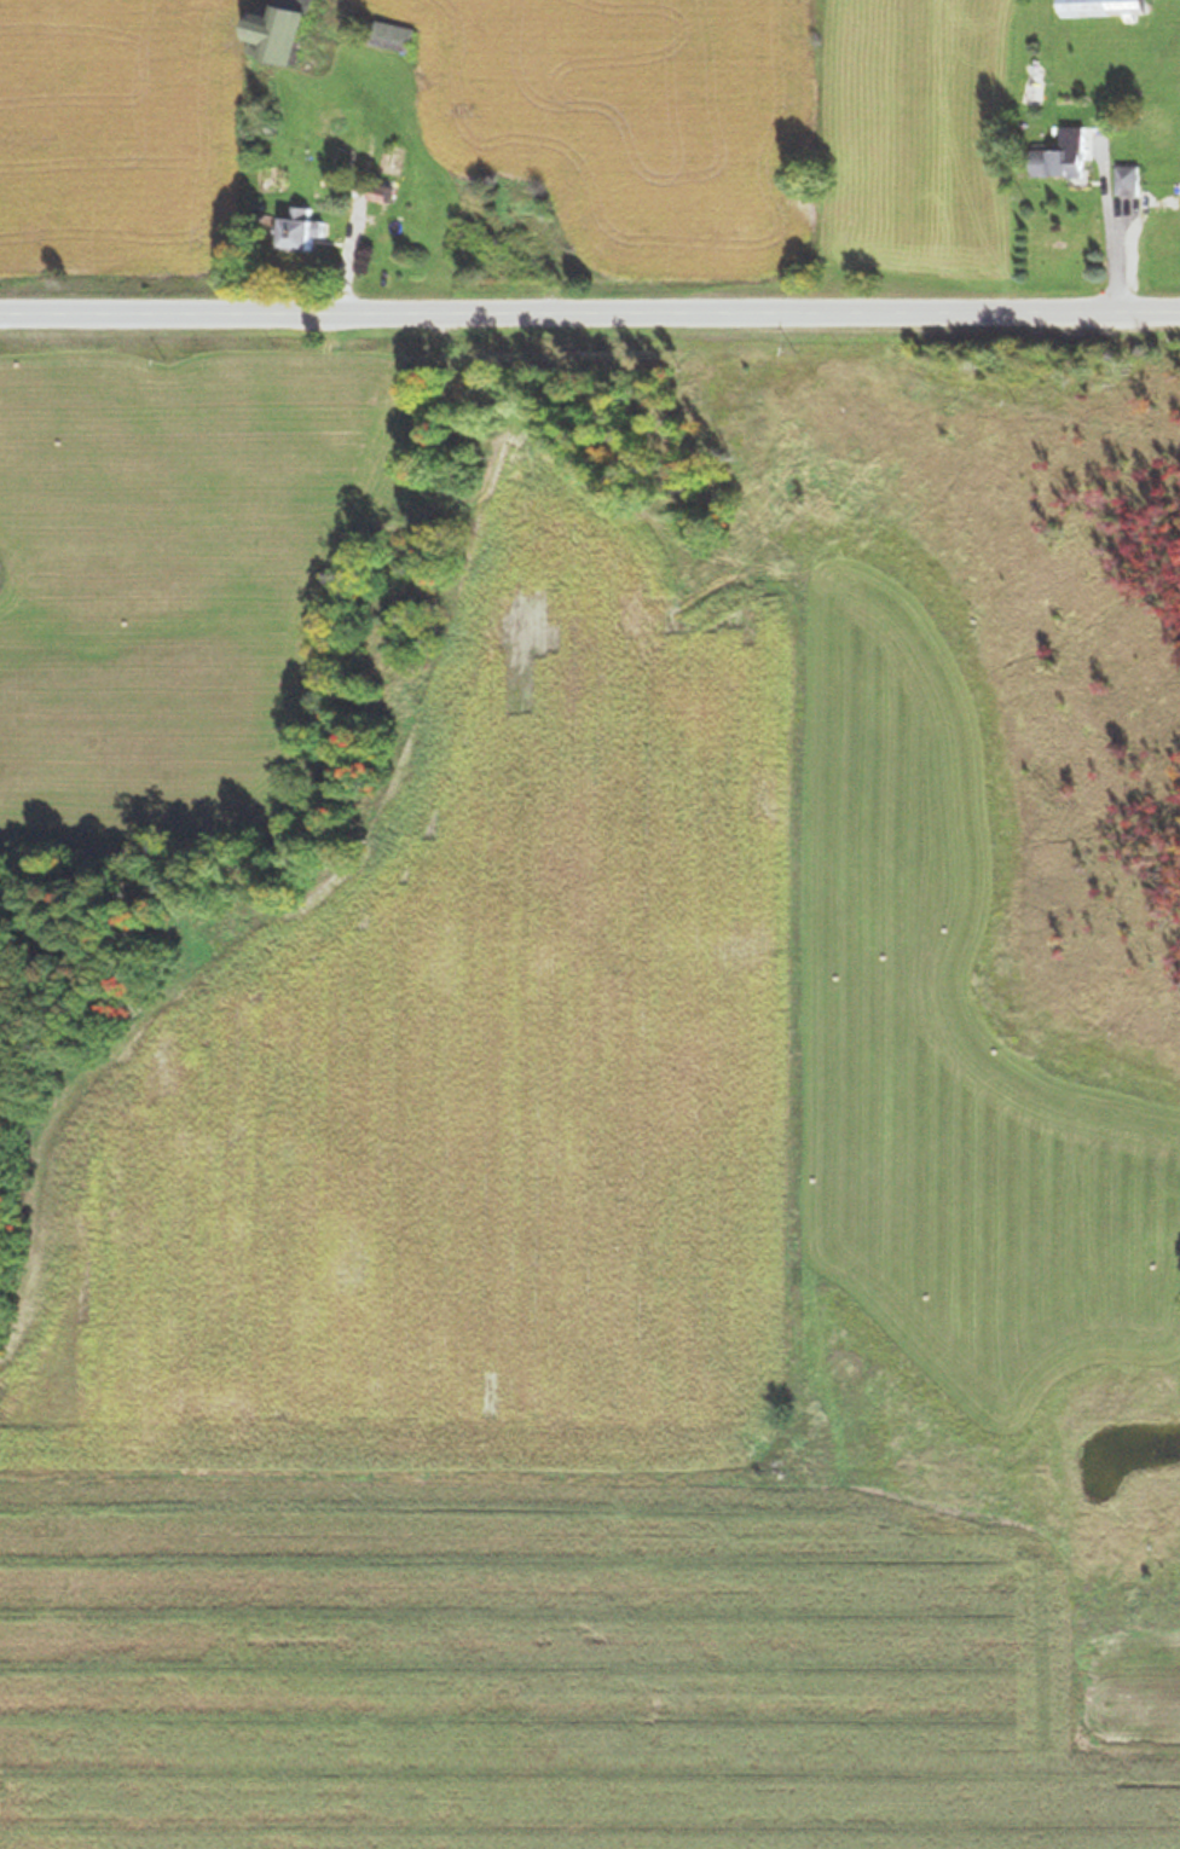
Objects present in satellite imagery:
building: (1101, 7)
building: (277, 33)
building: (392, 36)
building: (326, 117)
building: (1055, 161)
building: (380, 191)
building: (299, 228)
road: (590, 314)

